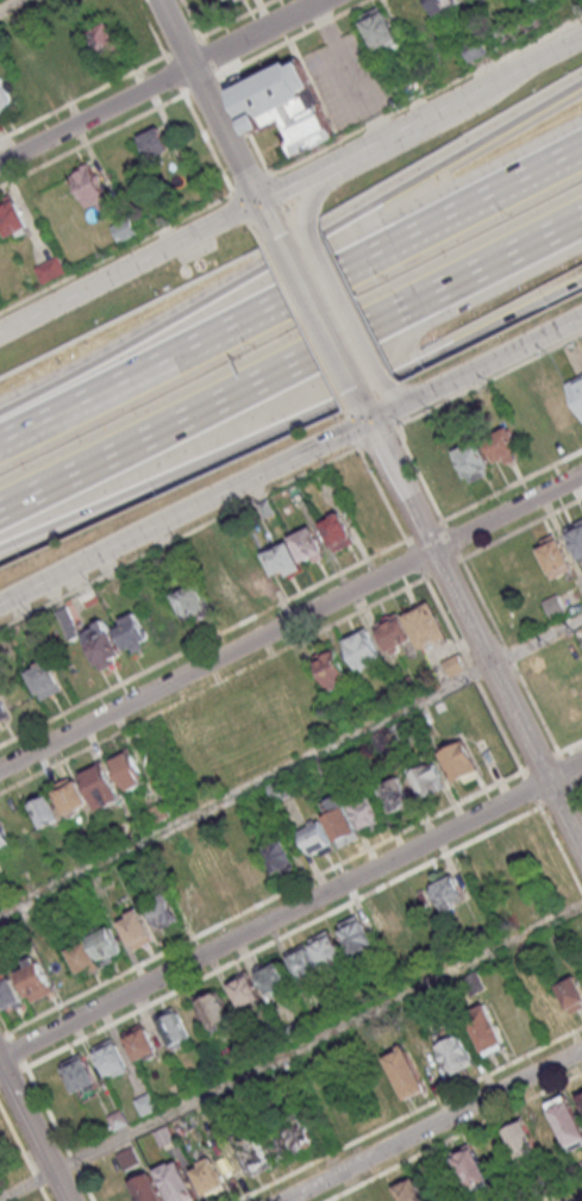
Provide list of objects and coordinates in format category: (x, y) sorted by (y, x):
building: (233, 1)
road: (11, 5)
building: (442, 5)
road: (233, 19)
building: (380, 29)
road: (289, 38)
building: (105, 39)
road: (183, 45)
road: (174, 73)
road: (161, 82)
road: (202, 83)
road: (500, 83)
building: (6, 98)
road: (211, 99)
road: (426, 99)
building: (284, 104)
building: (156, 142)
road: (375, 144)
road: (296, 182)
building: (89, 187)
road: (277, 188)
road: (315, 192)
building: (12, 217)
road: (271, 217)
building: (124, 229)
road: (292, 246)
road: (131, 265)
building: (51, 269)
road: (292, 293)
road: (333, 301)
road: (349, 306)
road: (321, 319)
road: (290, 361)
road: (489, 380)
building: (576, 392)
road: (400, 394)
road: (389, 412)
building: (561, 413)
road: (294, 418)
building: (503, 445)
road: (290, 459)
building: (474, 461)
building: (444, 475)
road: (421, 476)
road: (512, 483)
road: (518, 526)
building: (337, 532)
building: (576, 537)
road: (450, 538)
building: (294, 552)
building: (553, 555)
road: (443, 567)
road: (426, 574)
building: (220, 588)
road: (480, 599)
building: (190, 601)
building: (553, 605)
road: (446, 620)
road: (290, 621)
road: (471, 625)
building: (411, 626)
building: (132, 632)
building: (93, 639)
building: (363, 650)
road: (507, 653)
building: (453, 664)
building: (332, 668)
road: (473, 673)
building: (44, 678)
road: (534, 706)
building: (2, 708)
road: (500, 726)
road: (568, 745)
building: (461, 762)
road: (540, 762)
road: (290, 764)
building: (127, 769)
road: (567, 769)
building: (426, 778)
building: (99, 784)
road: (580, 786)
building: (394, 793)
road: (580, 793)
building: (70, 795)
building: (45, 809)
building: (367, 812)
building: (158, 813)
building: (339, 820)
building: (314, 838)
building: (5, 840)
building: (280, 857)
building: (505, 861)
building: (249, 871)
building: (448, 893)
building: (192, 901)
road: (290, 911)
building: (163, 912)
building: (386, 920)
building: (136, 928)
building: (356, 933)
building: (107, 943)
building: (327, 950)
building: (83, 958)
building: (303, 963)
building: (274, 976)
building: (33, 978)
building: (244, 989)
building: (570, 993)
building: (10, 994)
building: (214, 1009)
building: (174, 1026)
building: (486, 1028)
building: (140, 1043)
road: (290, 1051)
building: (455, 1051)
building: (111, 1058)
building: (415, 1068)
building: (79, 1072)
building: (578, 1094)
building: (118, 1119)
building: (565, 1120)
road: (436, 1127)
building: (296, 1132)
road: (33, 1133)
building: (164, 1134)
building: (524, 1144)
building: (129, 1157)
building: (242, 1159)
building: (470, 1166)
building: (208, 1175)
building: (176, 1181)
building: (146, 1188)
building: (409, 1190)
road: (572, 1196)

